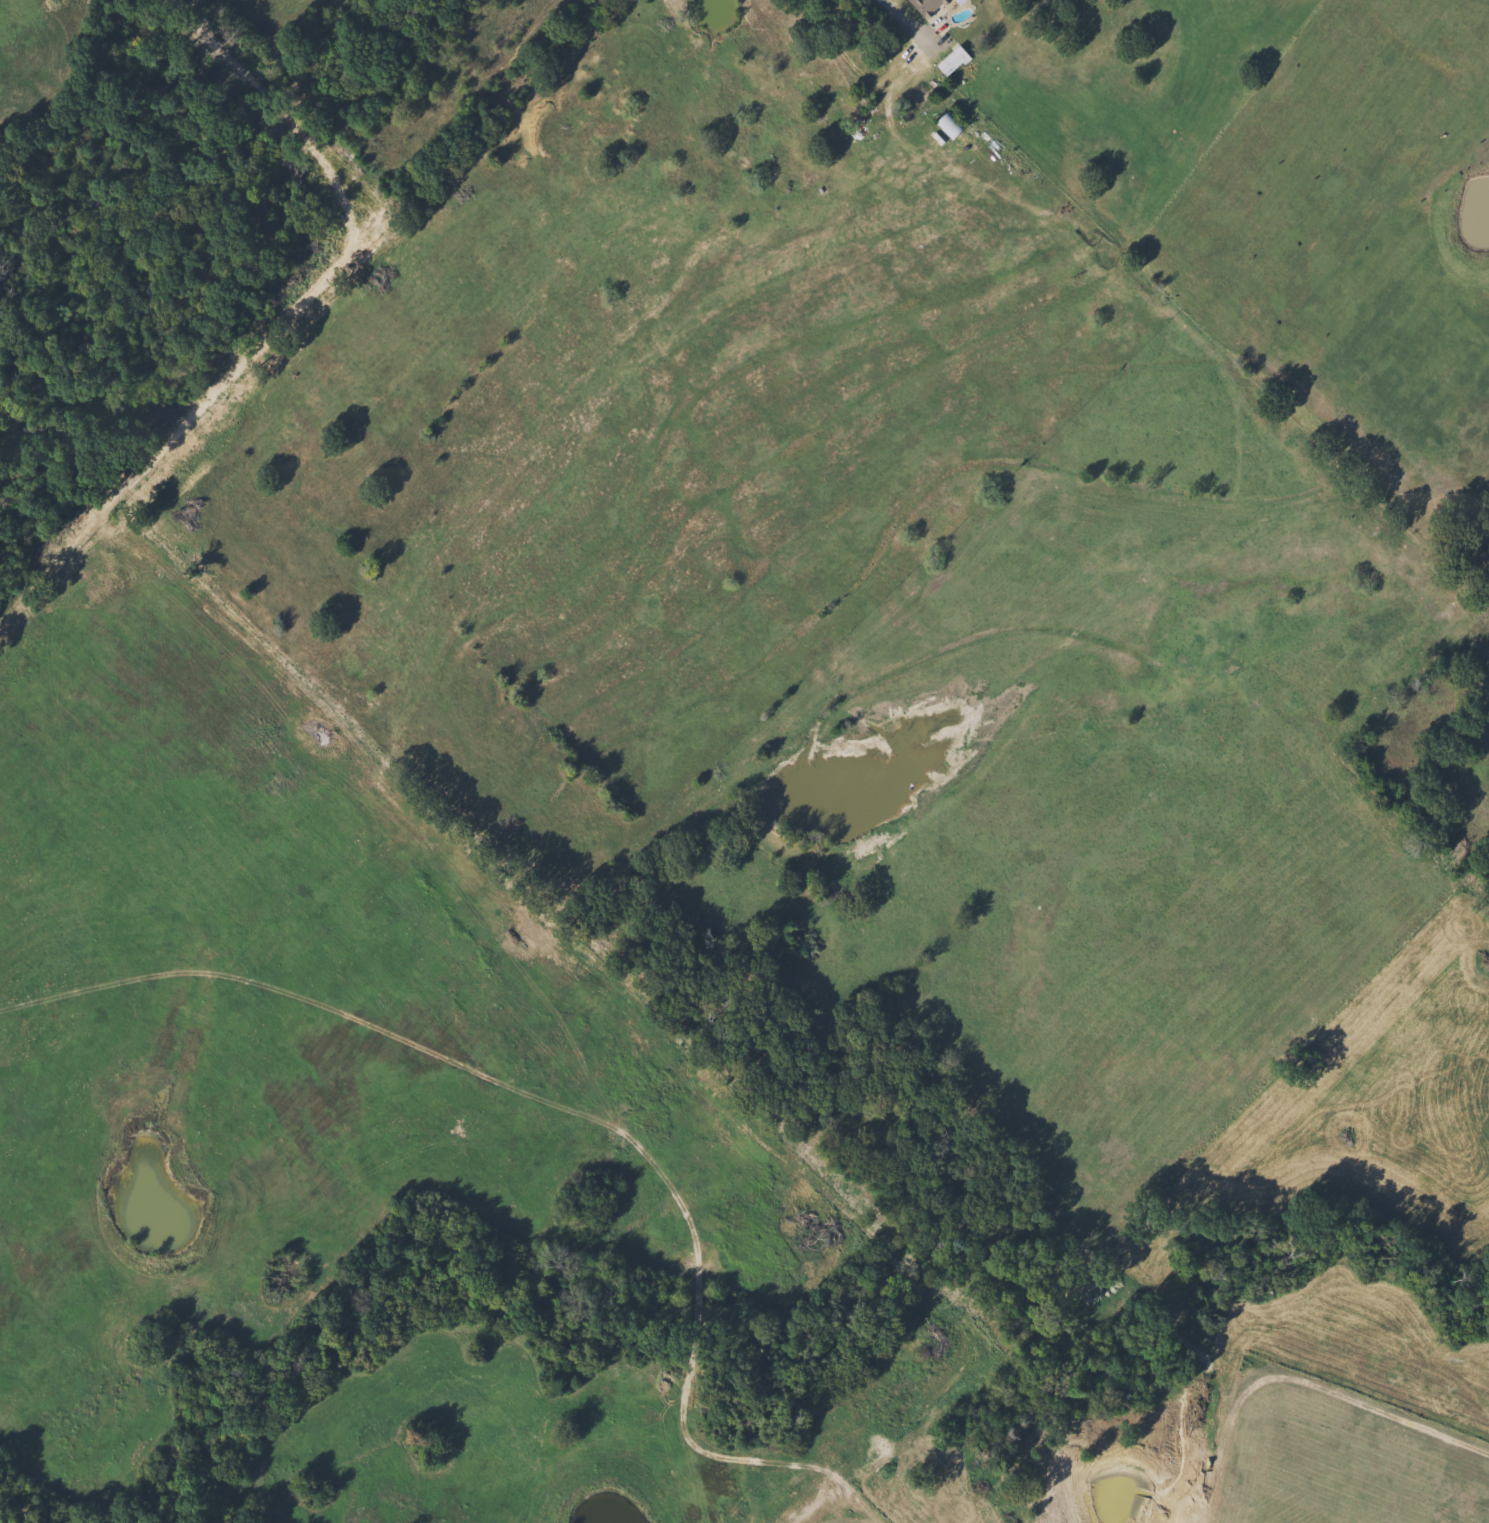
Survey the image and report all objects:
building: (922, 6)
road: (892, 12)
road: (555, 36)
building: (950, 61)
building: (948, 124)

